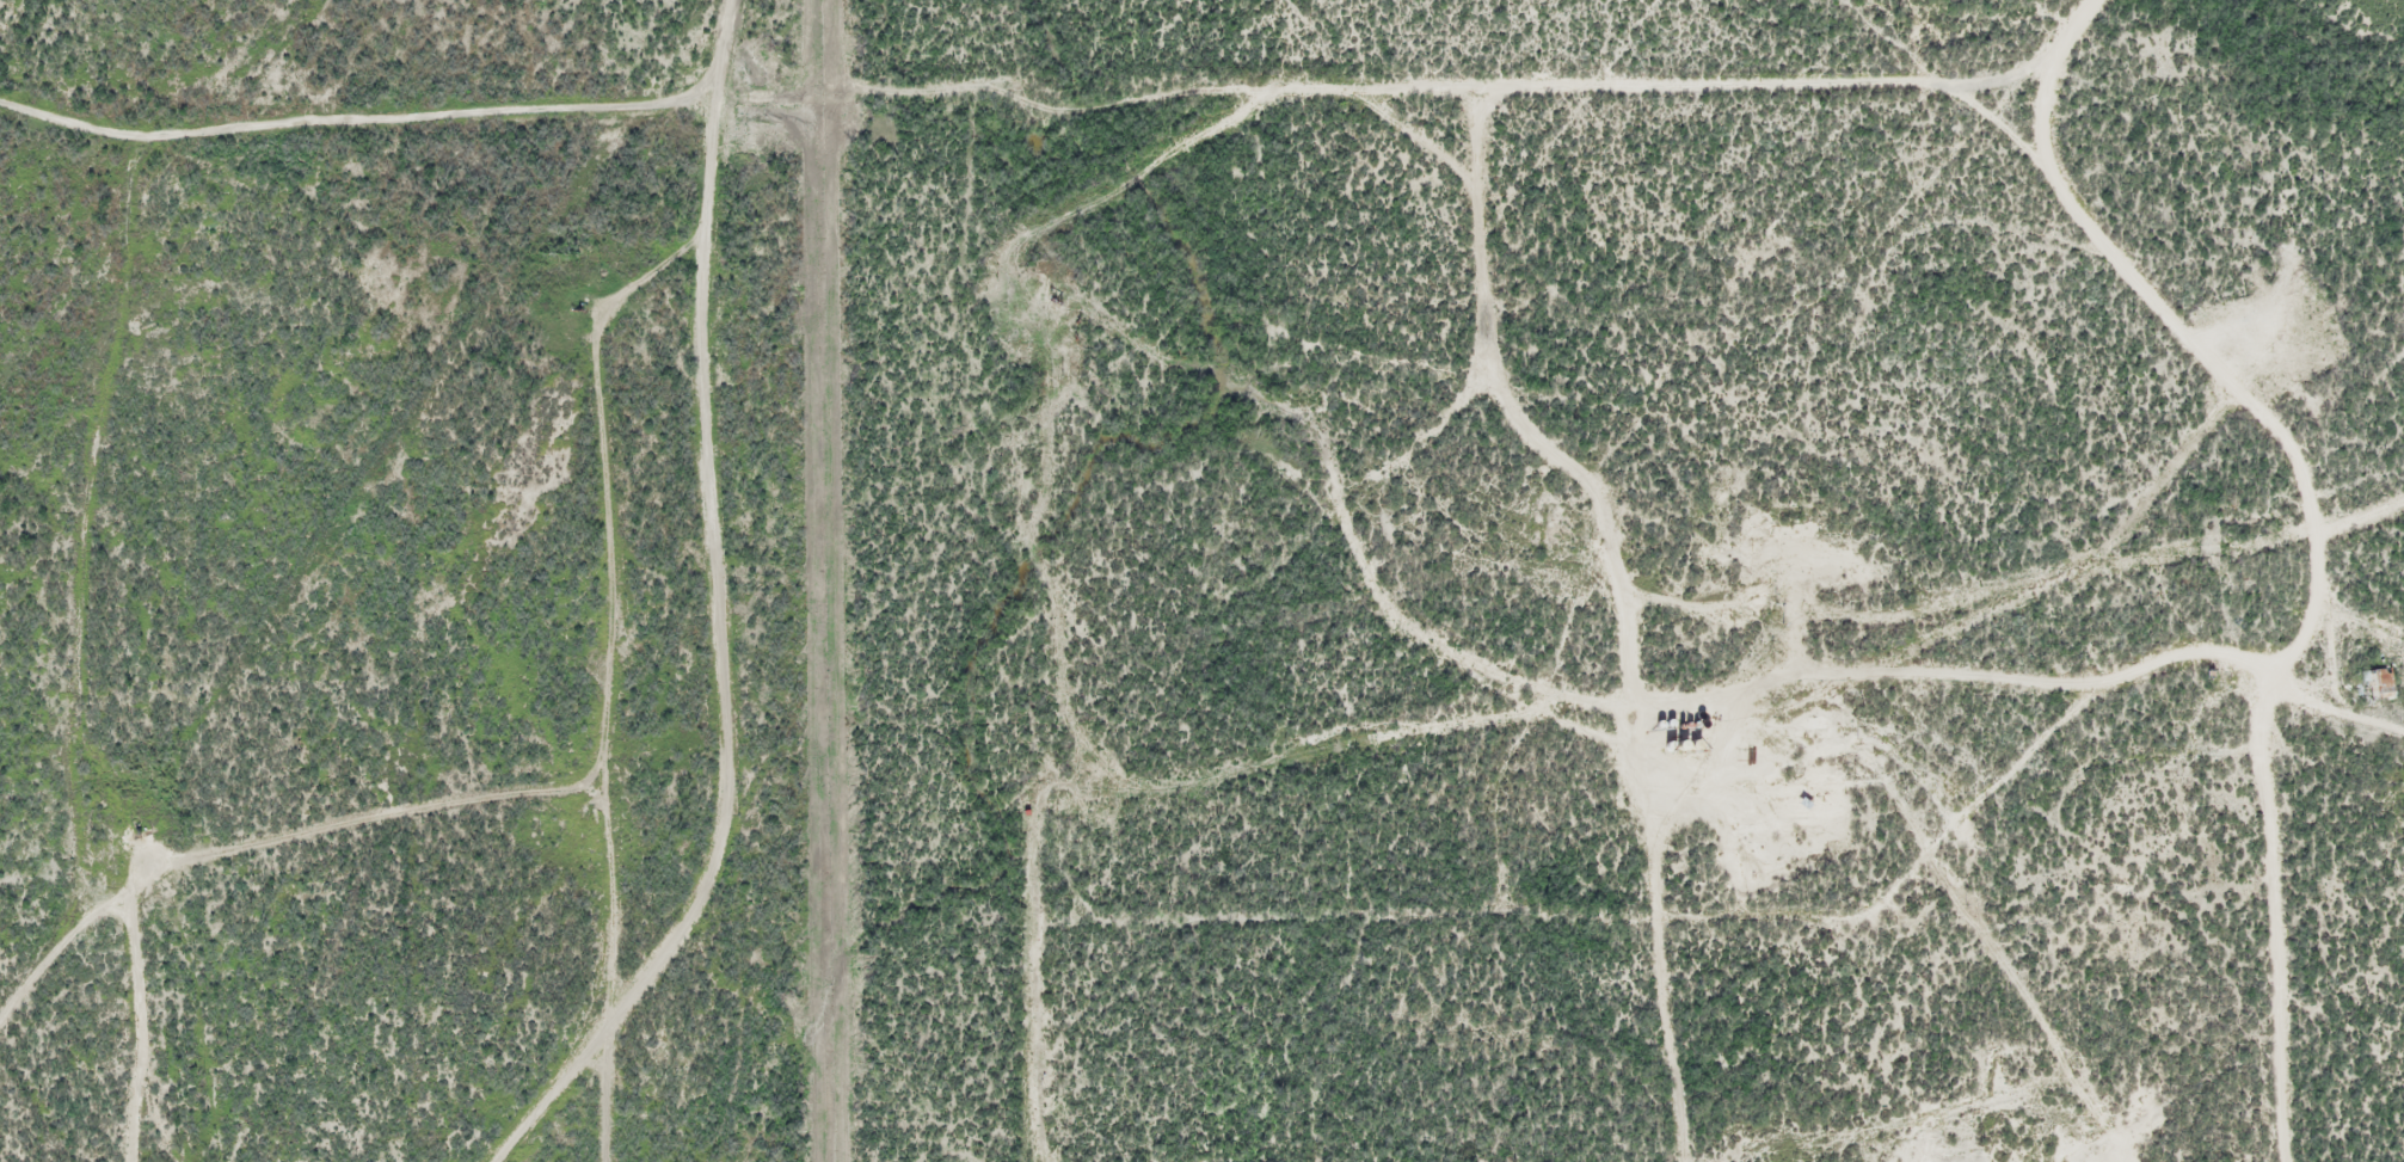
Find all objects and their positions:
road: (2311, 535)

